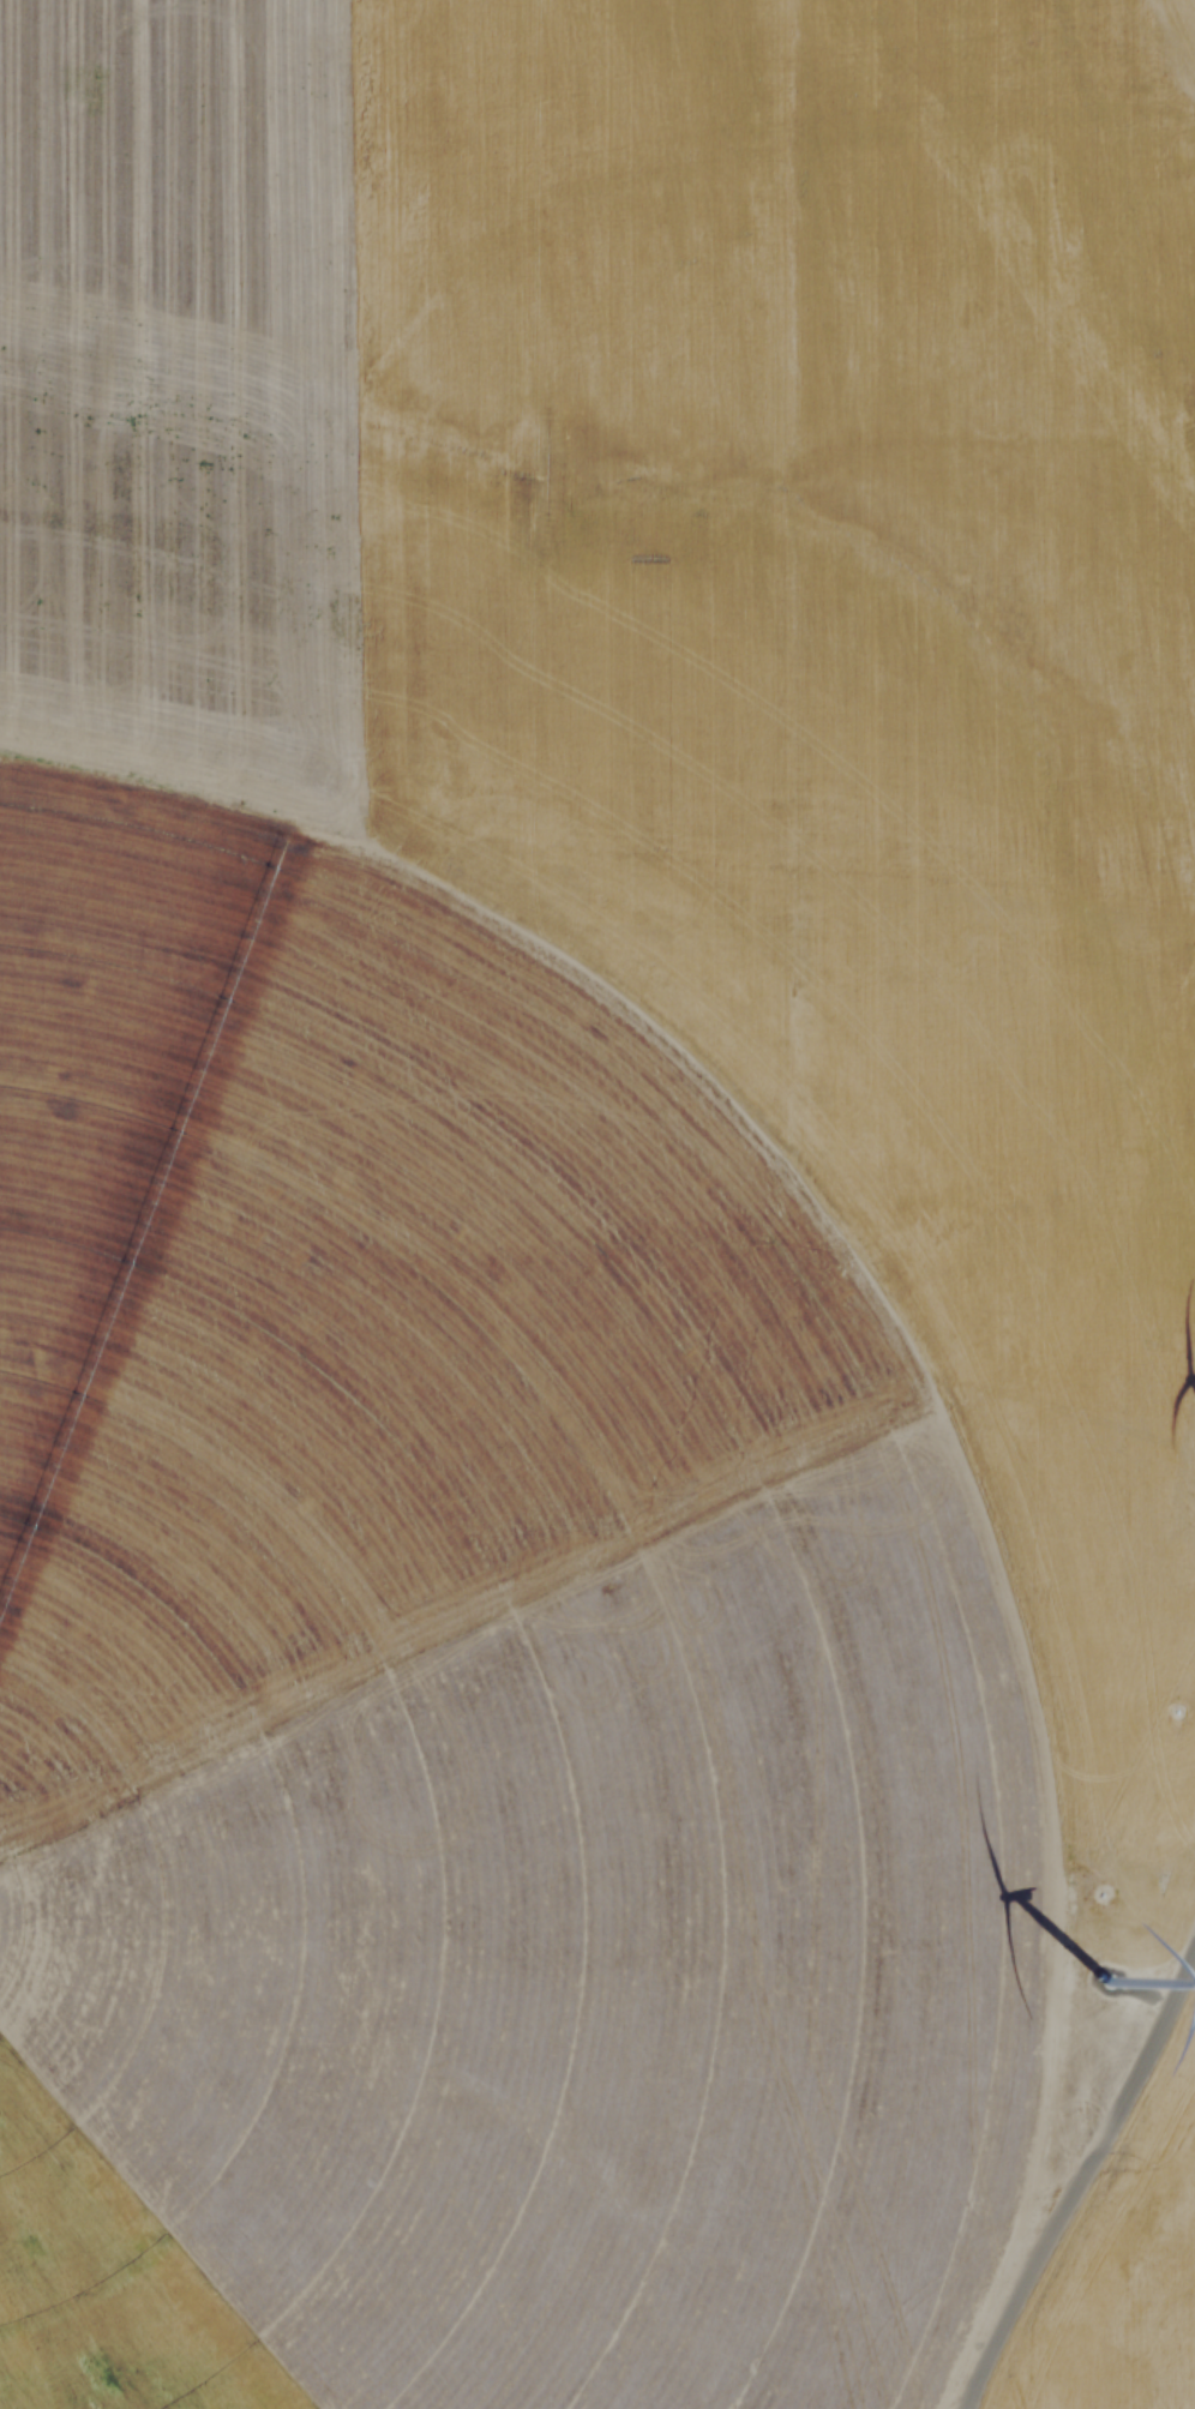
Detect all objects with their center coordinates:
wind turbine: (1111, 1990)
road: (1074, 2162)

